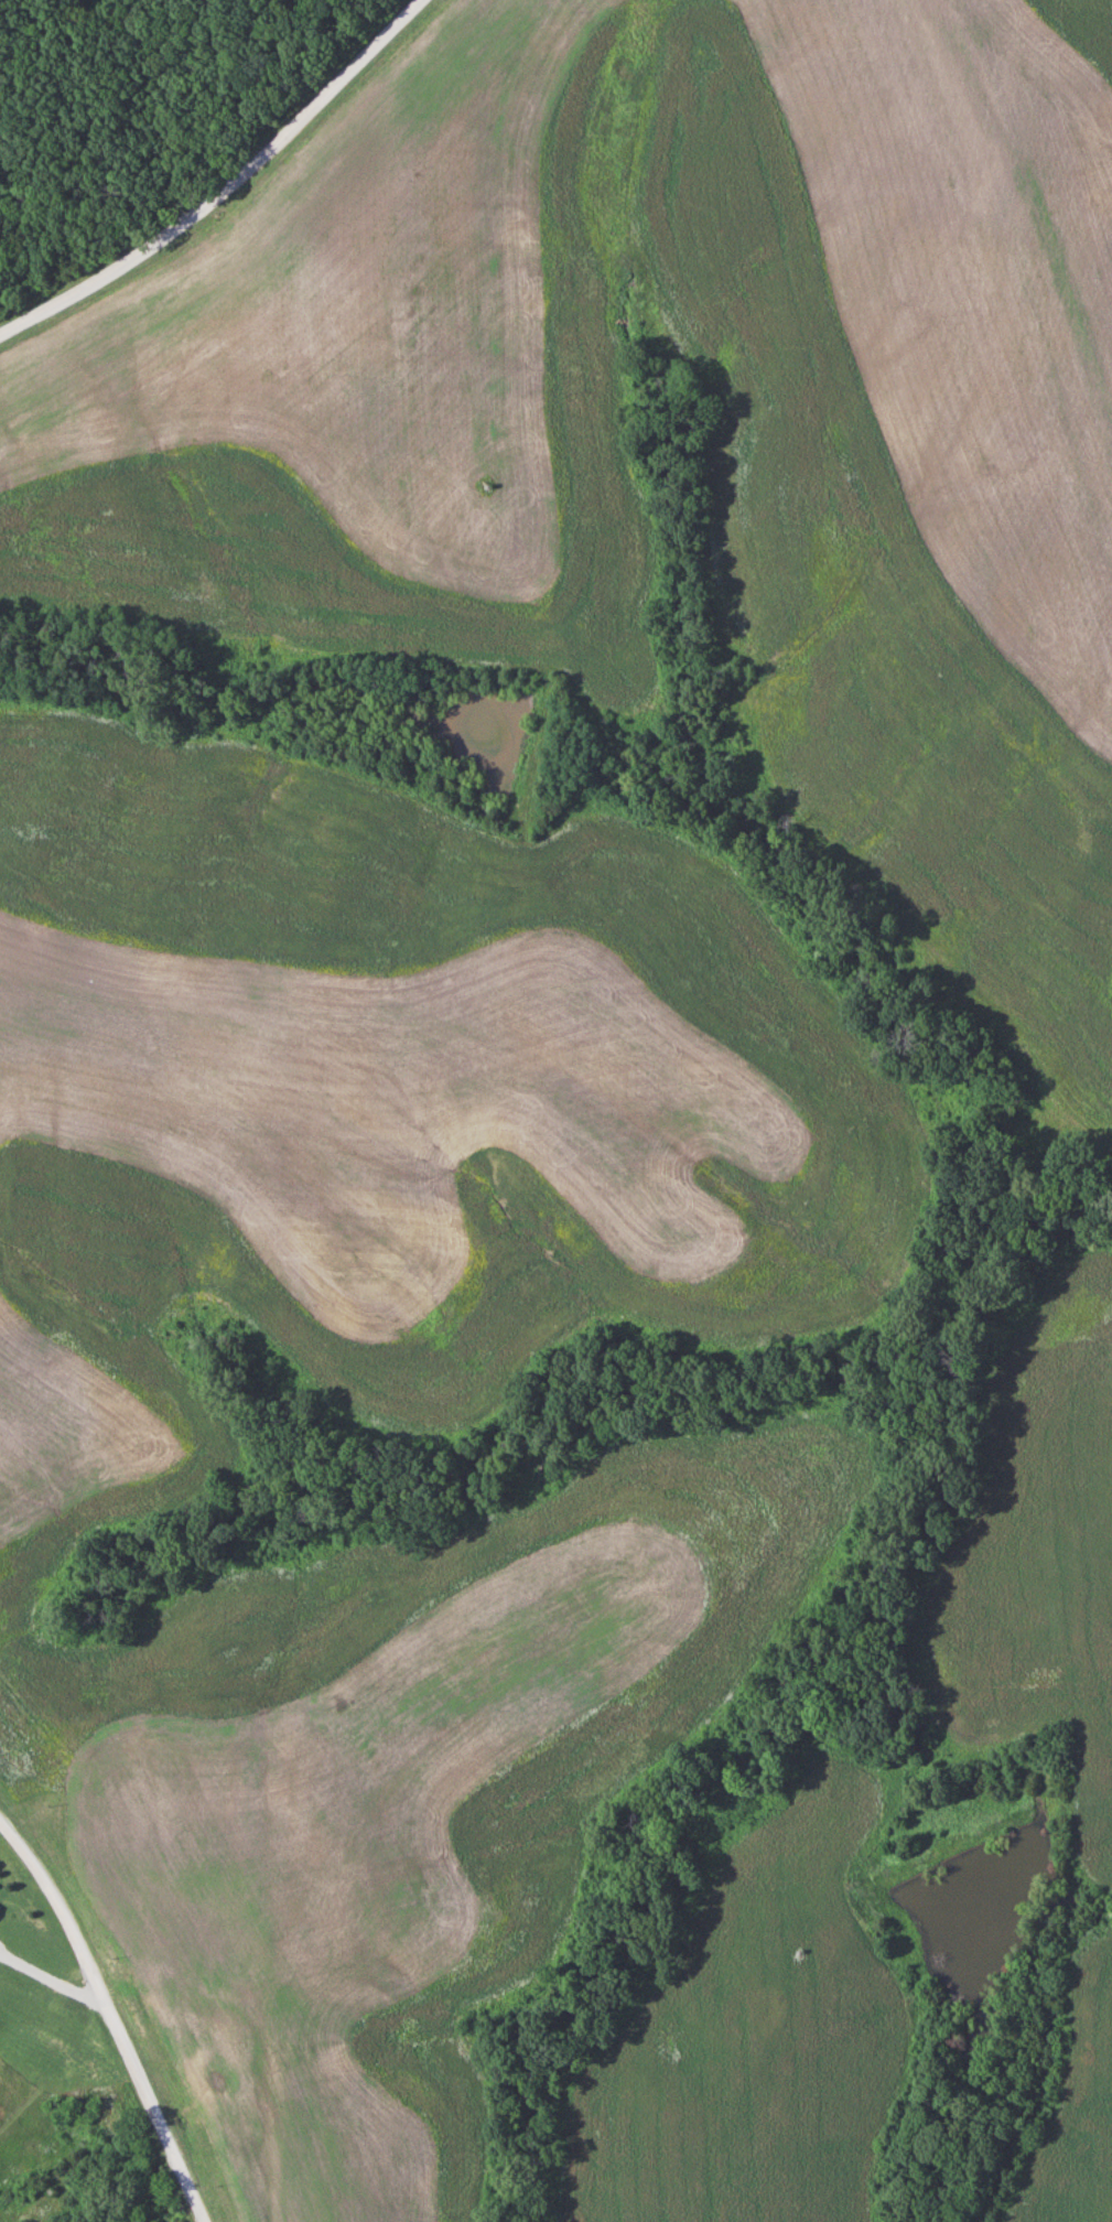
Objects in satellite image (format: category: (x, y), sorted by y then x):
road: (226, 187)
building: (12, 1921)
road: (112, 2015)

